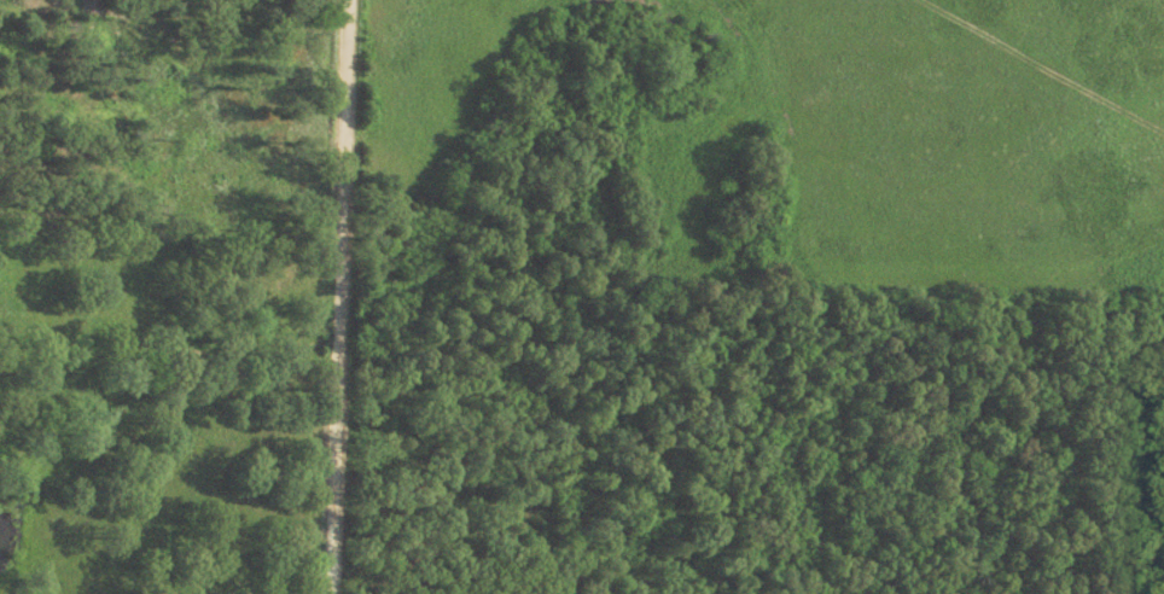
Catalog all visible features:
road: (332, 297)

